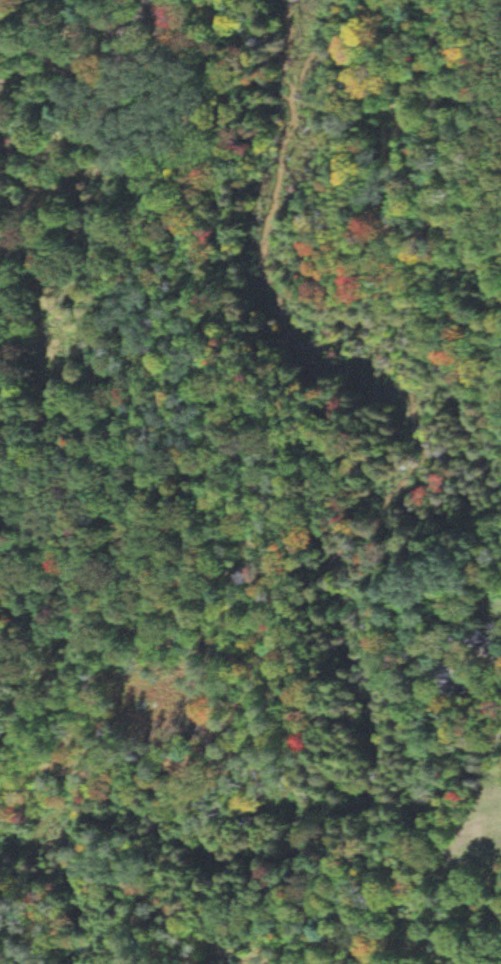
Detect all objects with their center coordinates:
road: (437, 53)
building: (484, 637)

